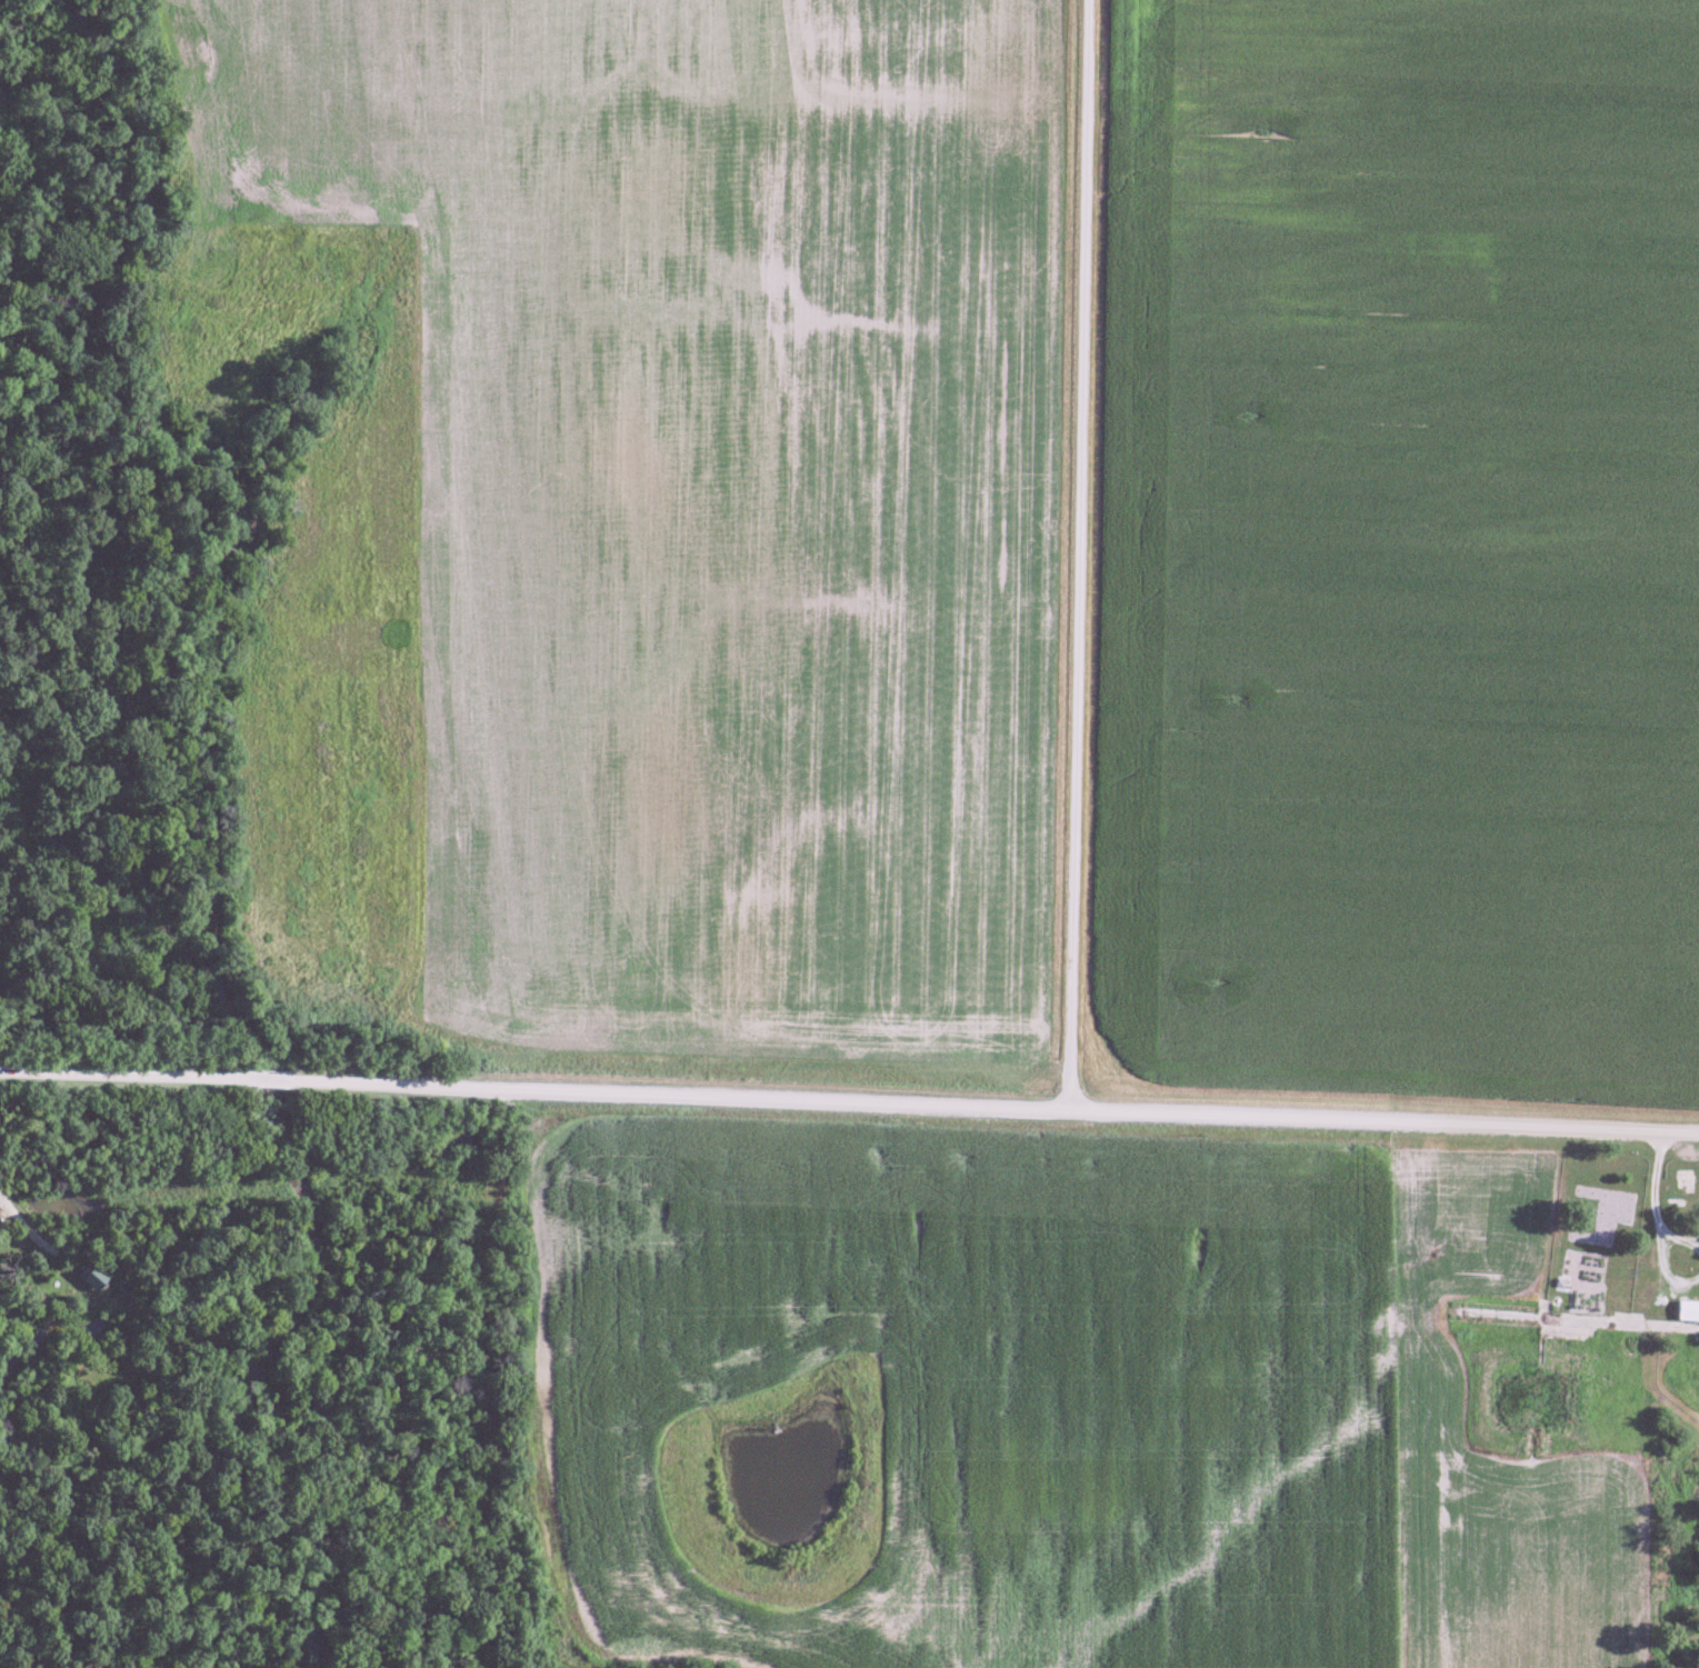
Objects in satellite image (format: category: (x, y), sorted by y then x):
road: (1078, 553)
road: (849, 1100)
road: (1656, 1181)
road: (1658, 1254)
building: (90, 1276)
building: (1688, 1309)

